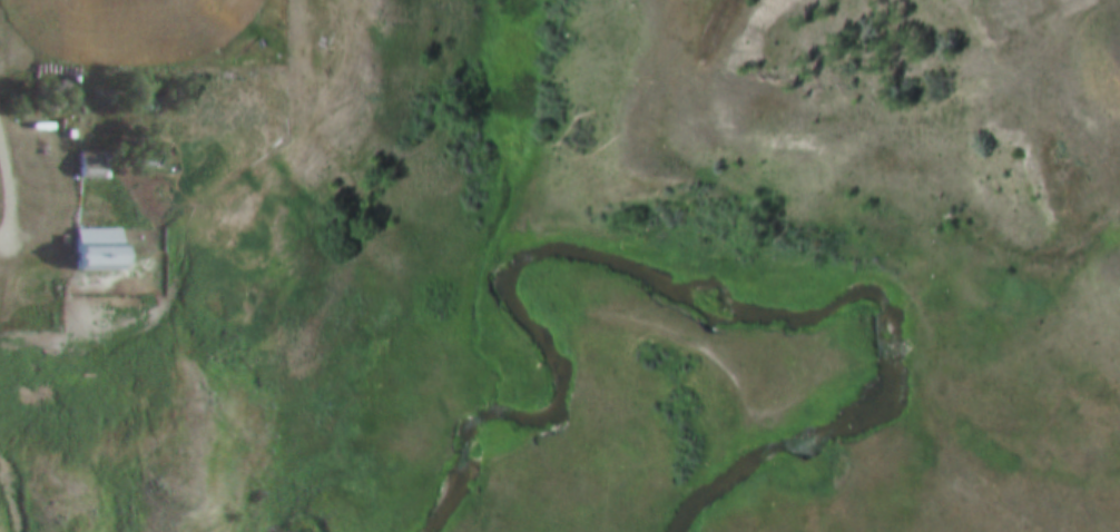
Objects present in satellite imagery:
building: (151, 160)
building: (94, 166)
road: (12, 183)
building: (92, 249)

